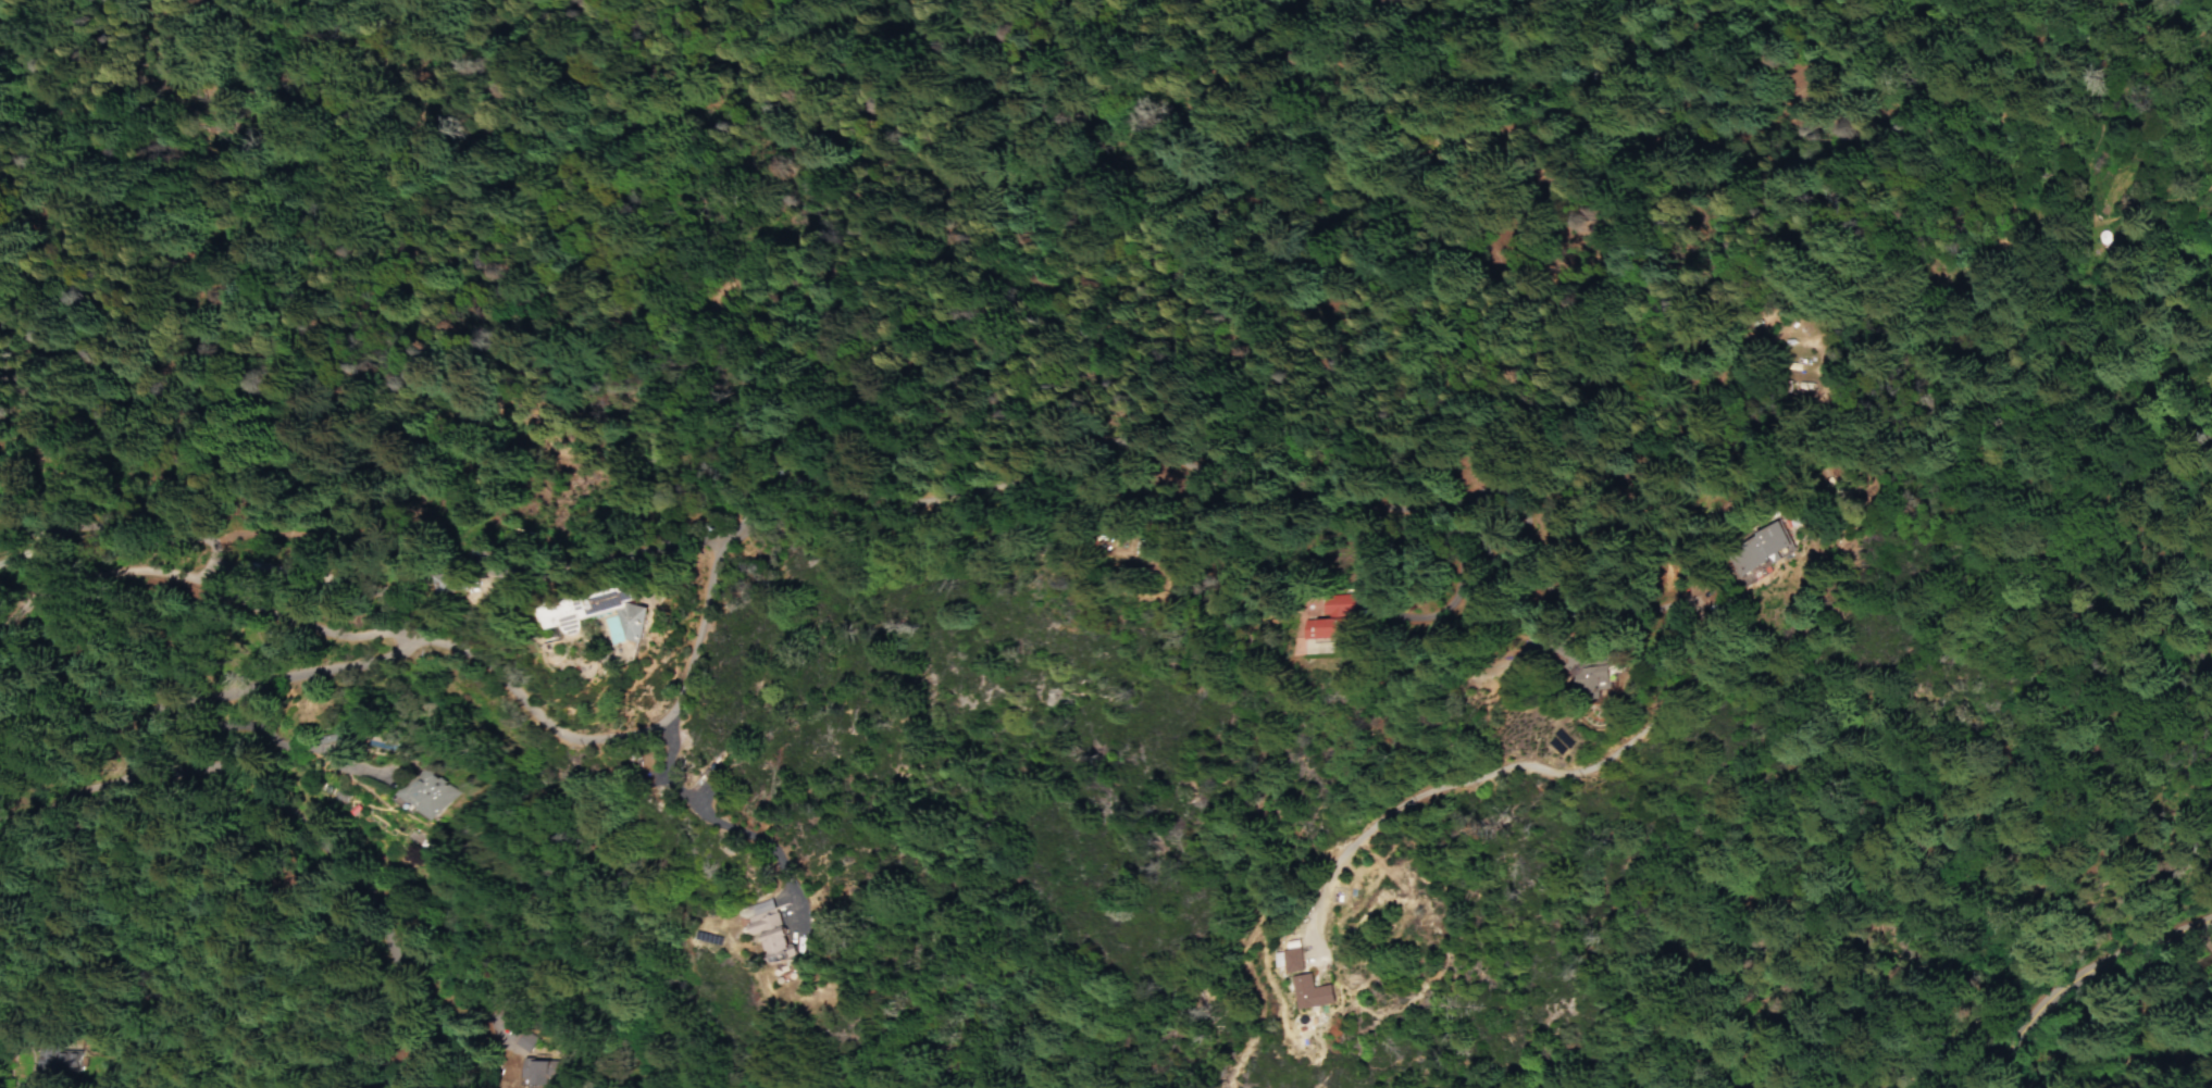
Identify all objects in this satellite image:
road: (2105, 98)
building: (2087, 236)
road: (1902, 376)
building: (1752, 548)
building: (461, 572)
building: (455, 581)
road: (1440, 587)
road: (211, 595)
building: (585, 603)
building: (635, 618)
building: (1326, 620)
building: (1587, 674)
road: (687, 681)
road: (1508, 768)
road: (55, 786)
building: (423, 792)
road: (721, 823)
building: (767, 927)
building: (1291, 961)
road: (2062, 972)
road: (2125, 989)
building: (1310, 993)
crop: (2110, 1016)
building: (511, 1040)
building: (2211, 1042)
building: (27, 1058)
building: (531, 1072)
road: (783, 1083)

